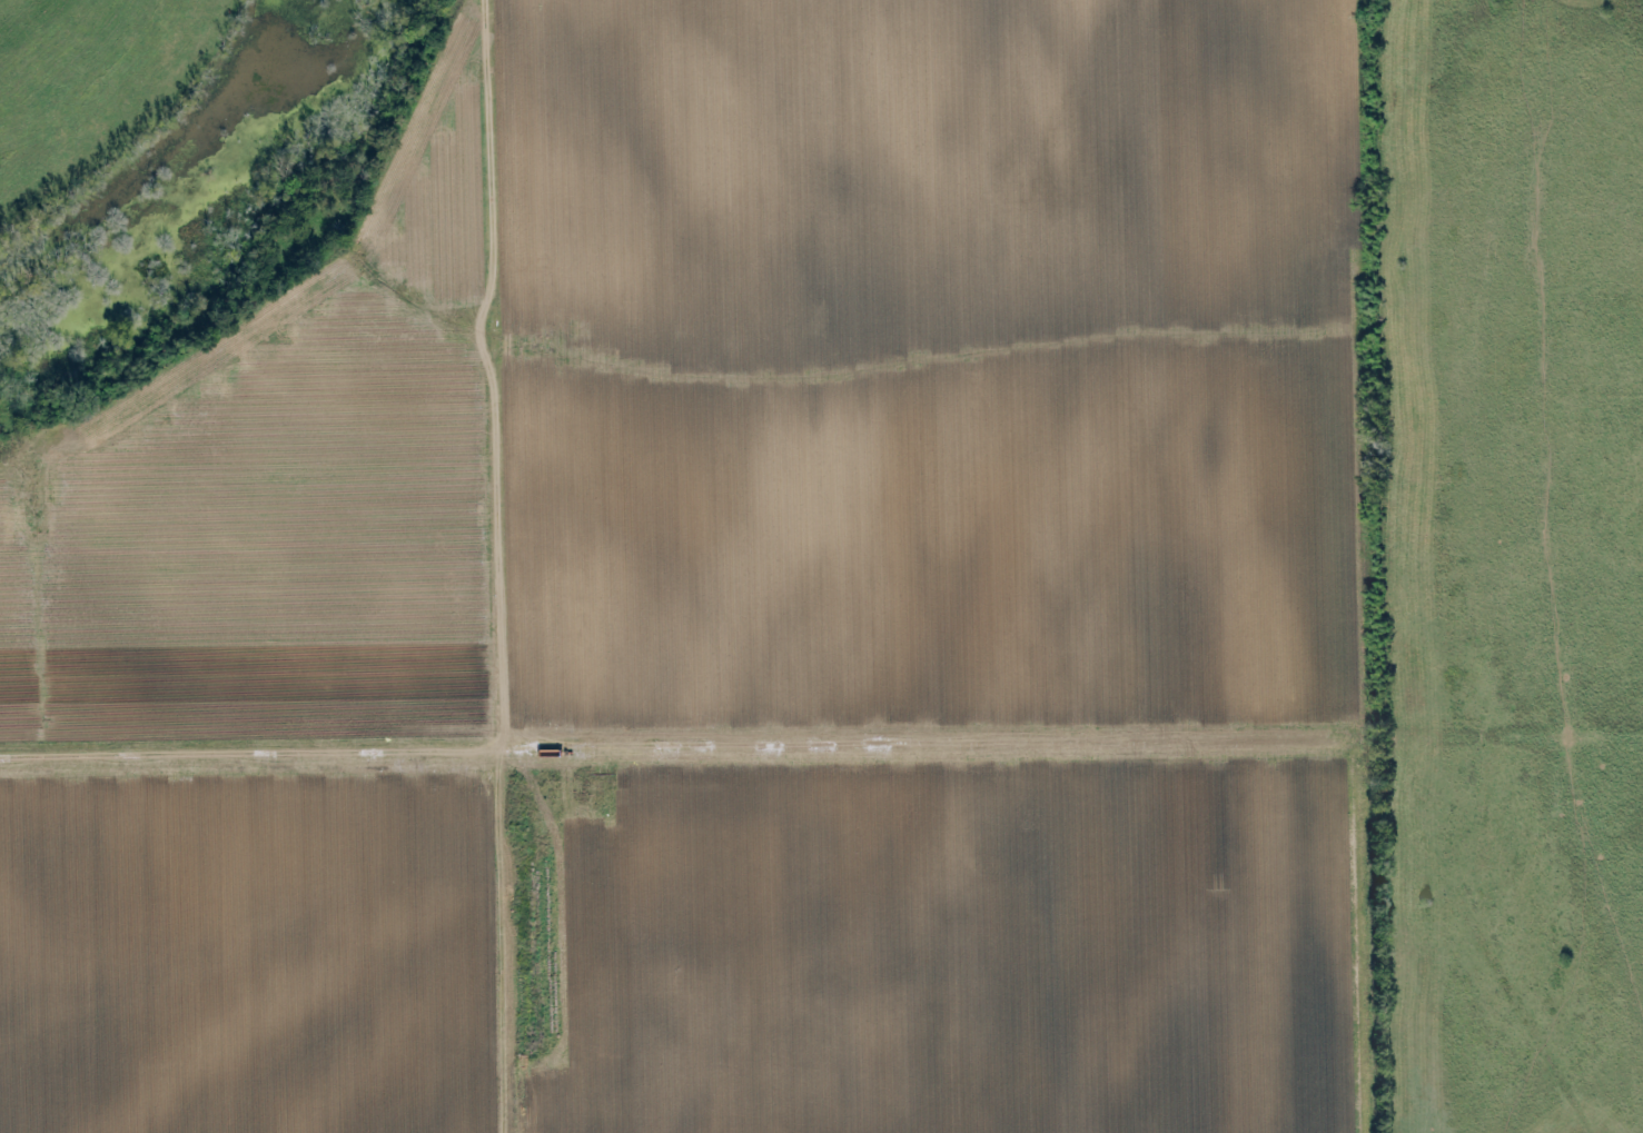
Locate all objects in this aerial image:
road: (497, 567)
road: (254, 748)

